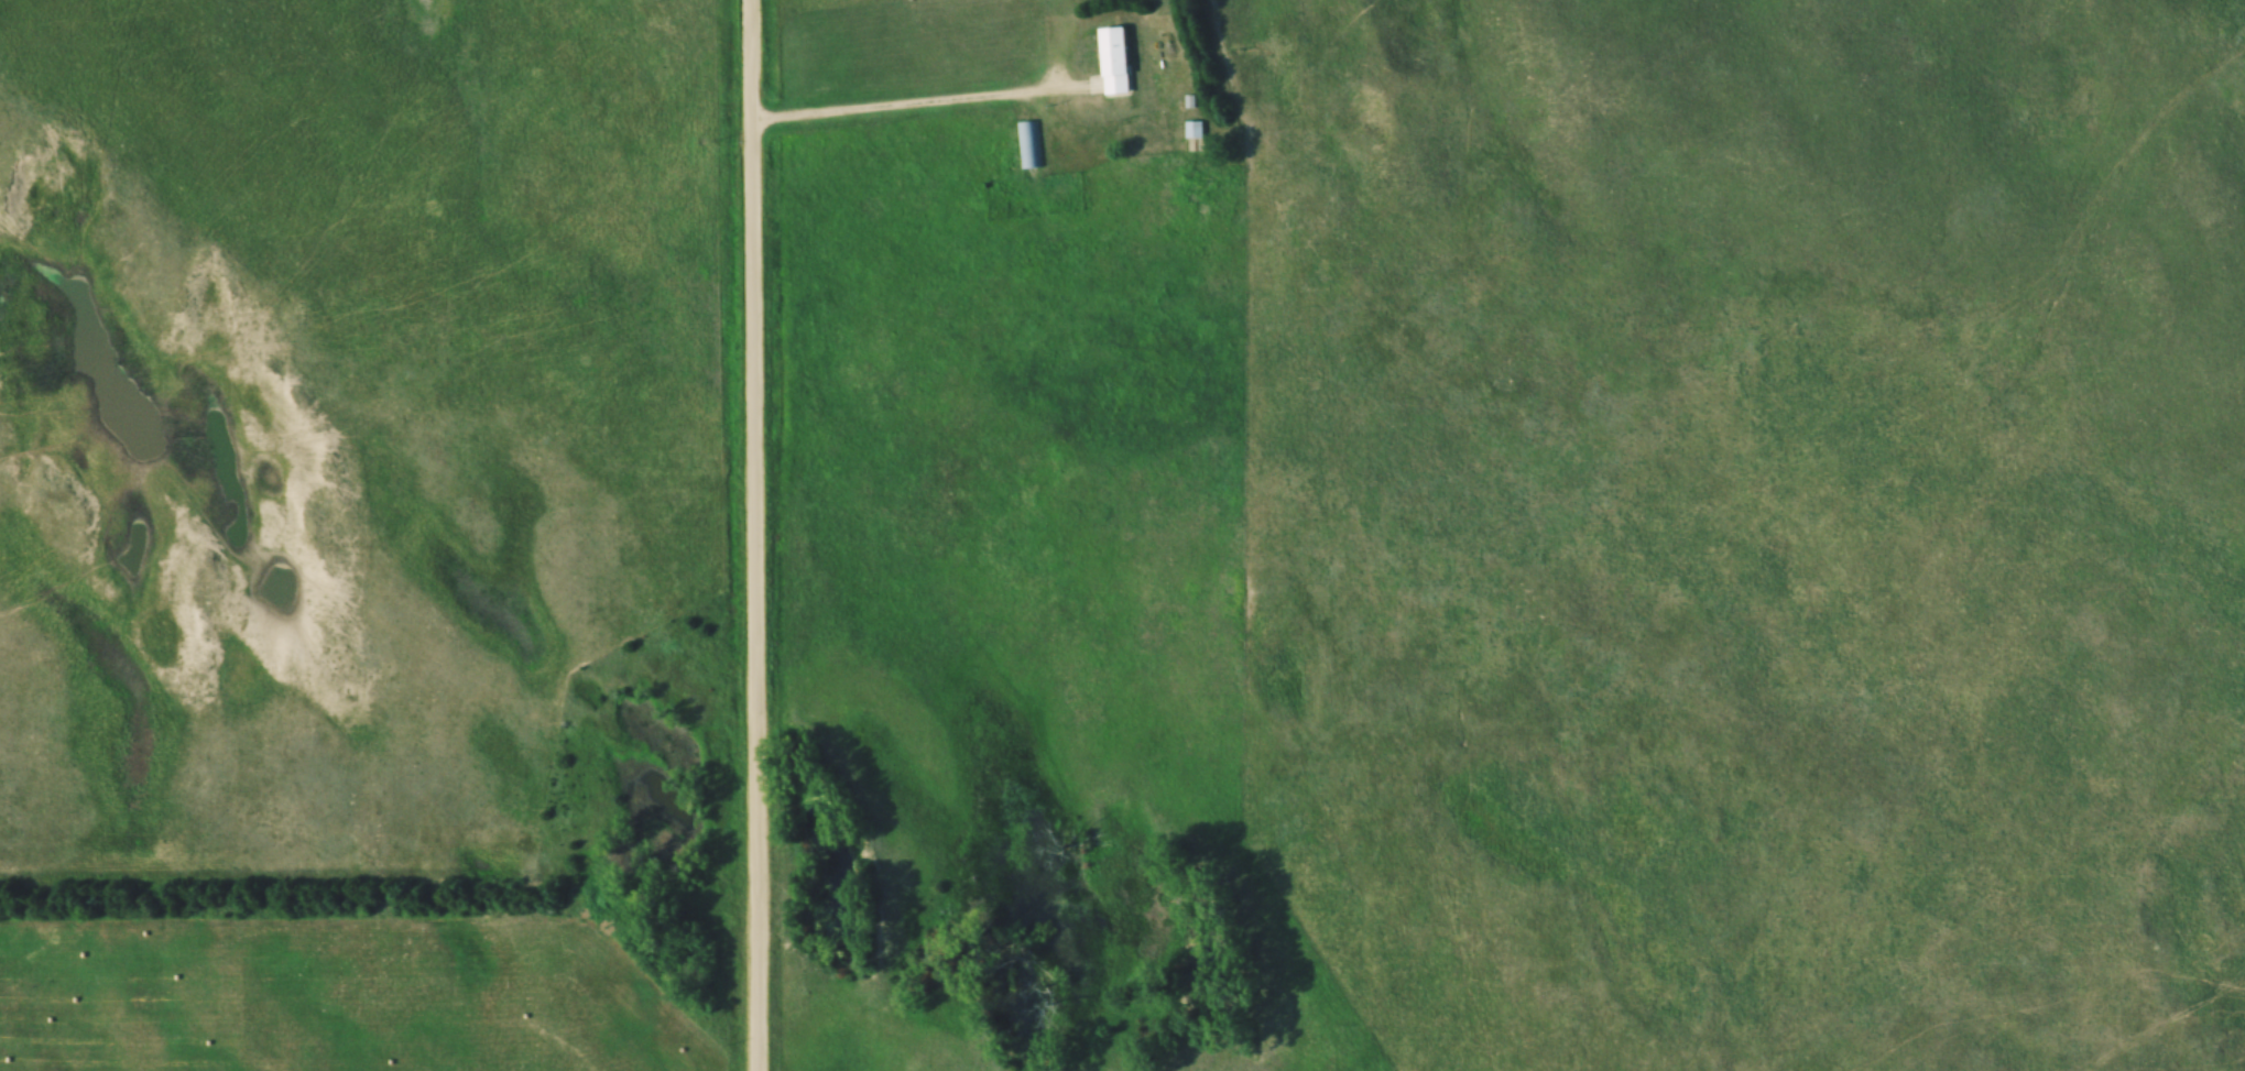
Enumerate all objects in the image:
building: (1108, 62)
road: (924, 109)
building: (1191, 128)
building: (1029, 143)
road: (753, 535)

